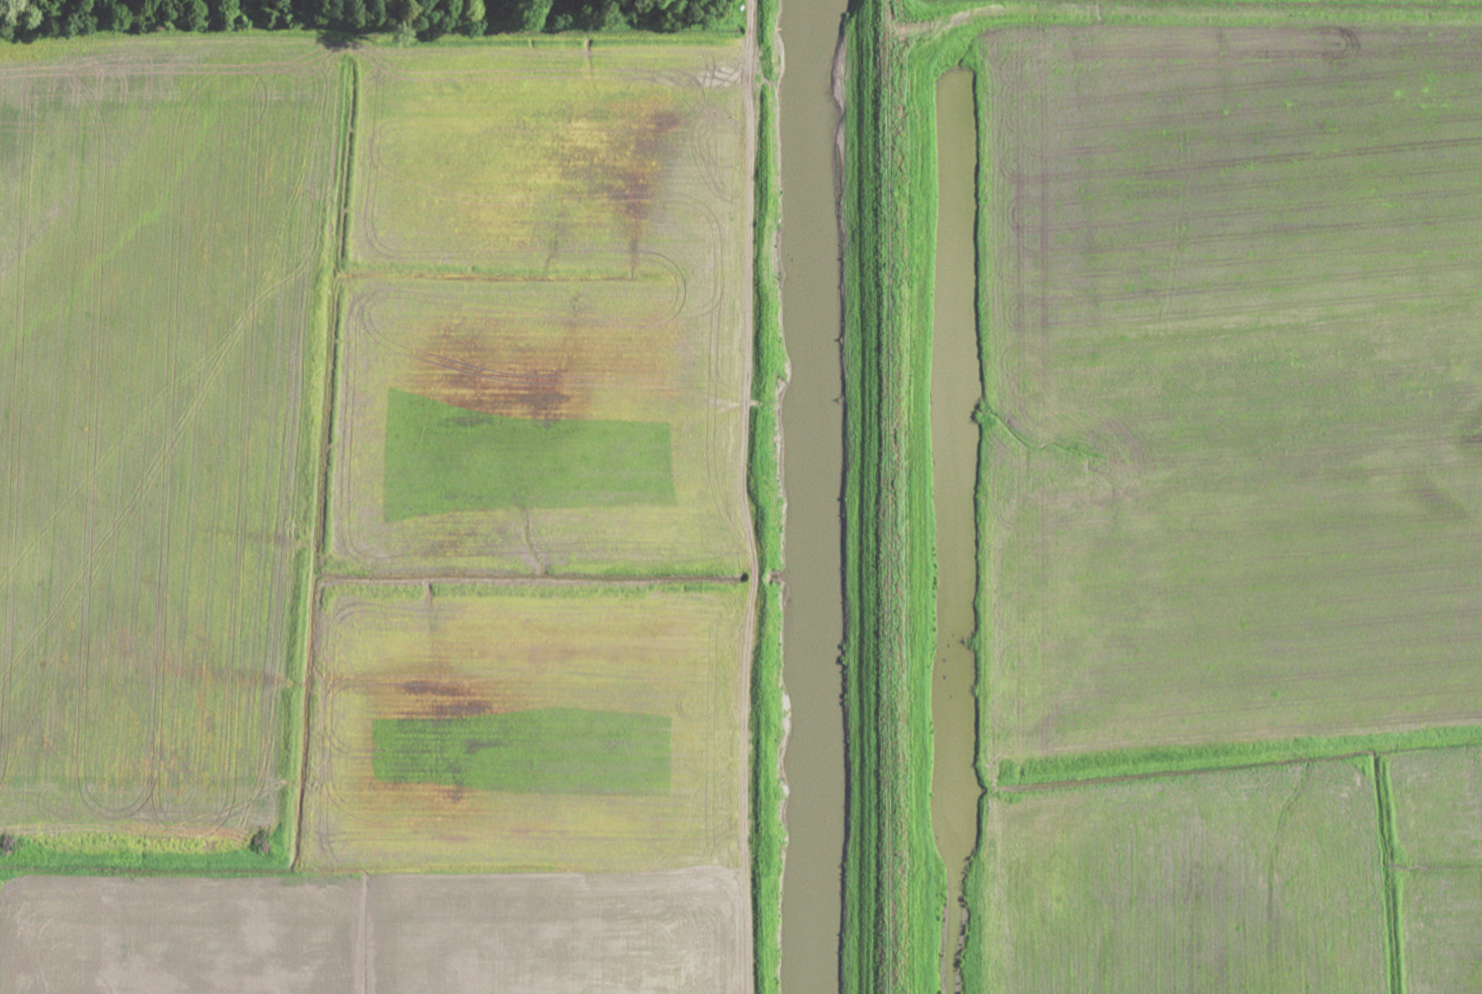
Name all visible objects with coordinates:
road: (1152, 11)
road: (381, 44)
road: (805, 56)
road: (772, 57)
road: (755, 495)
river: (809, 496)

